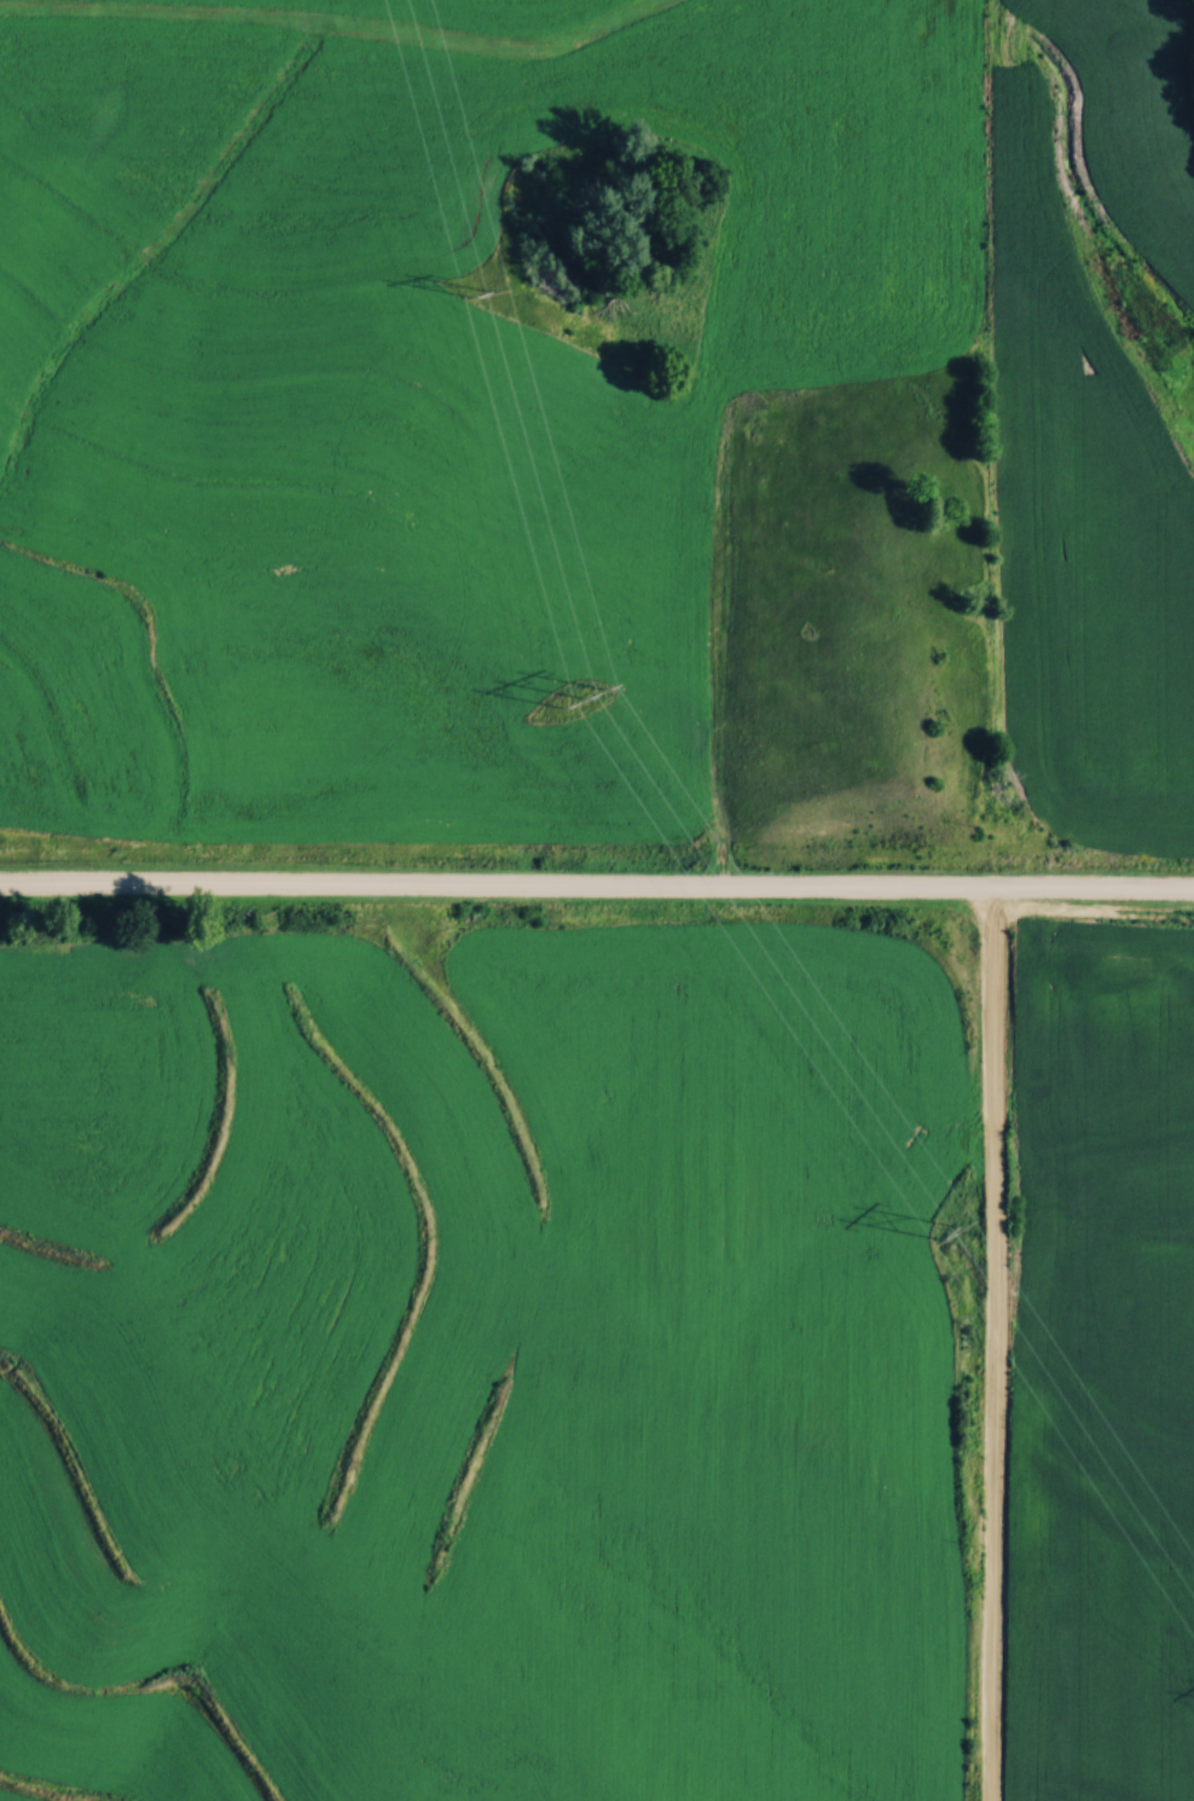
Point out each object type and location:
power tower: (593, 692)
road: (597, 882)
power tower: (958, 1242)
road: (995, 1342)

